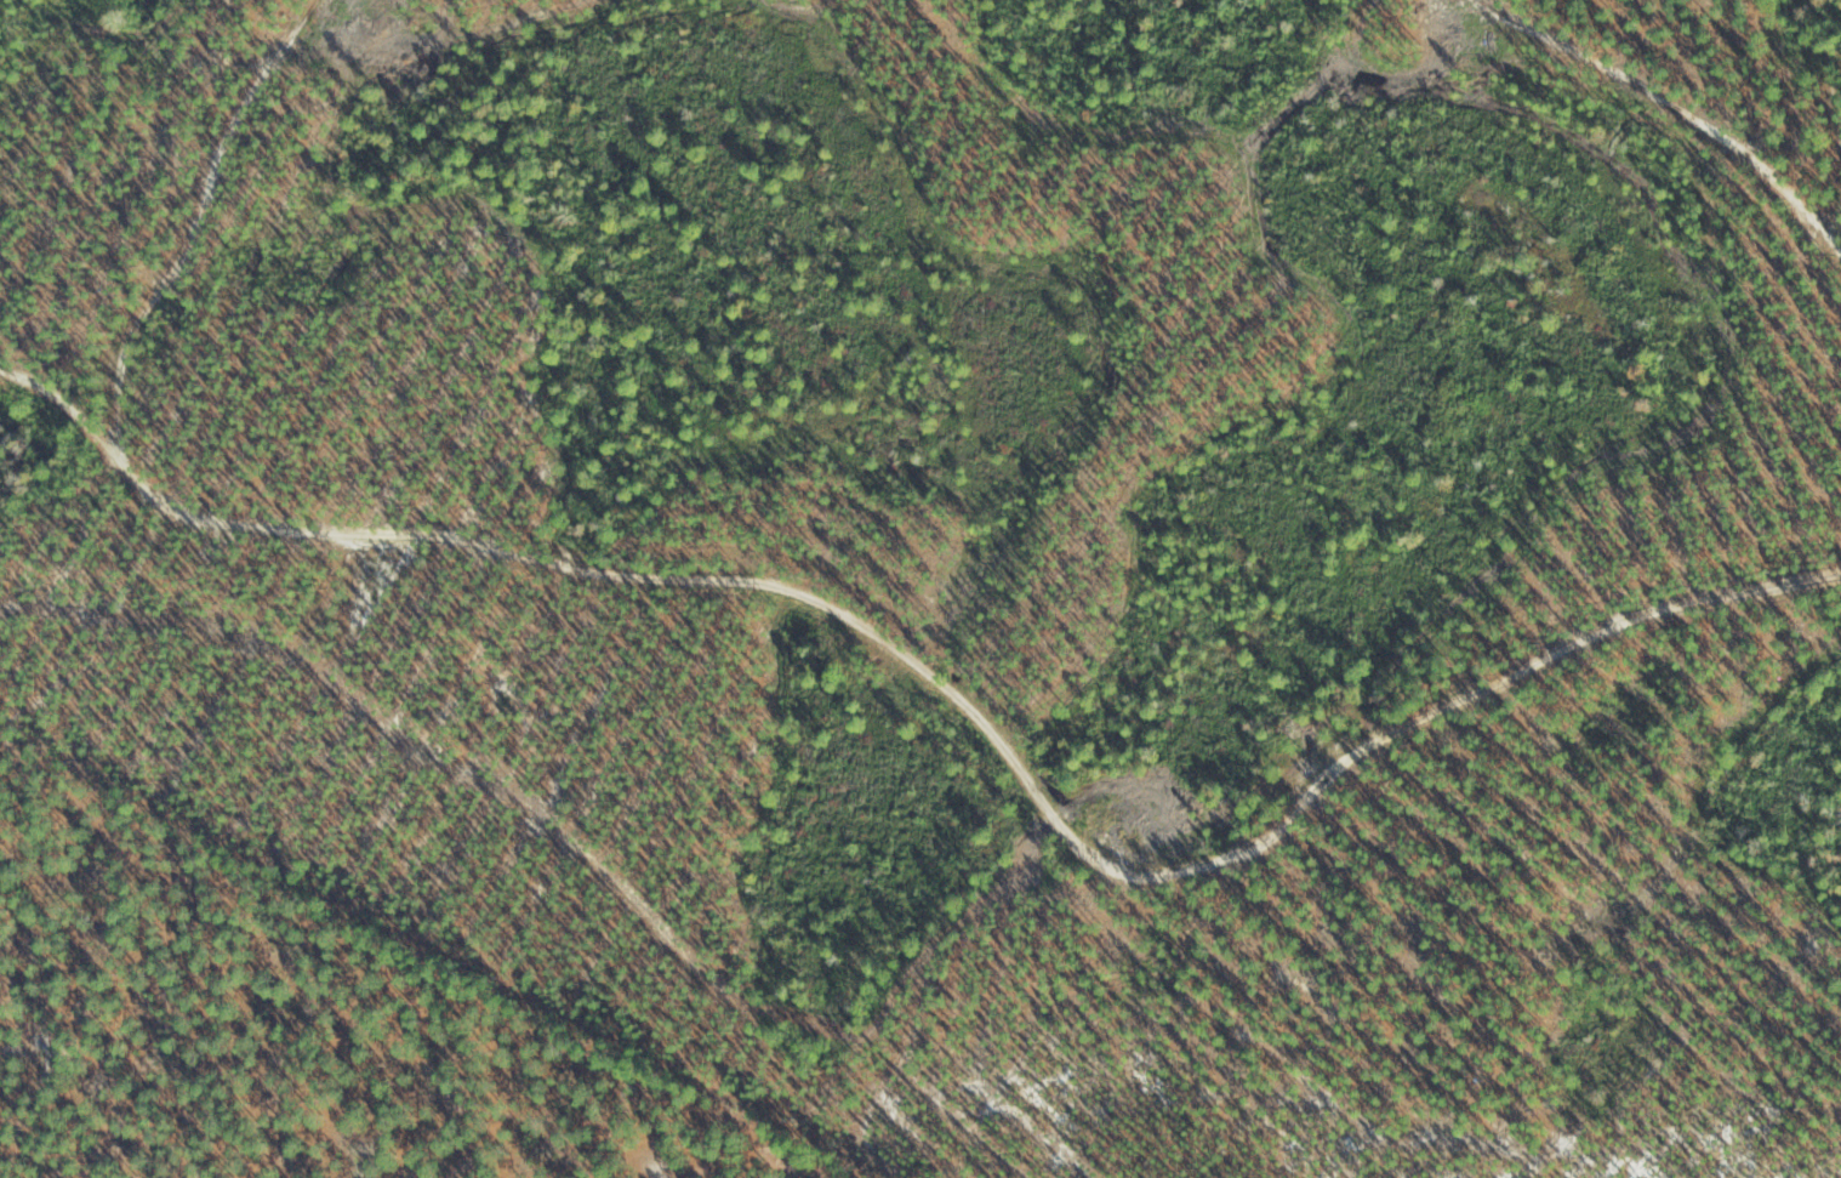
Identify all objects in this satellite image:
road: (1708, 93)
road: (114, 249)
road: (25, 389)
road: (942, 768)

